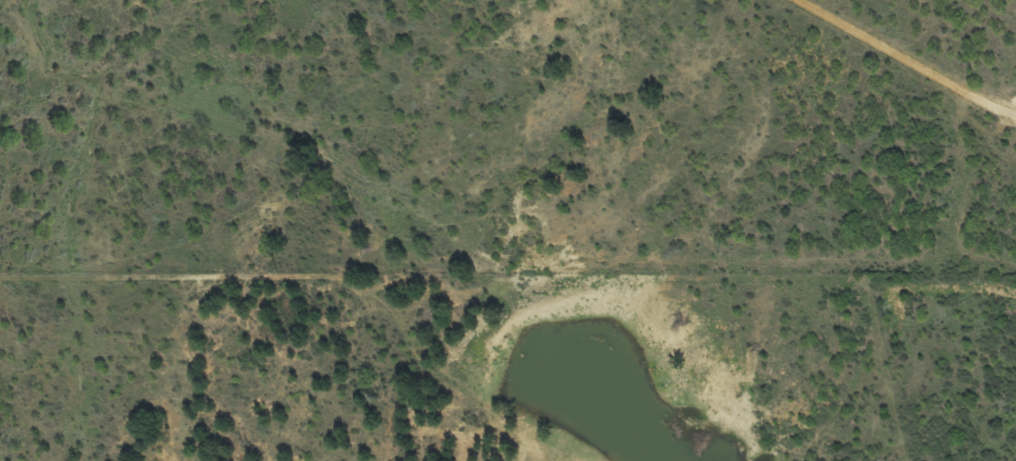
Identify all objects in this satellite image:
road: (902, 65)

